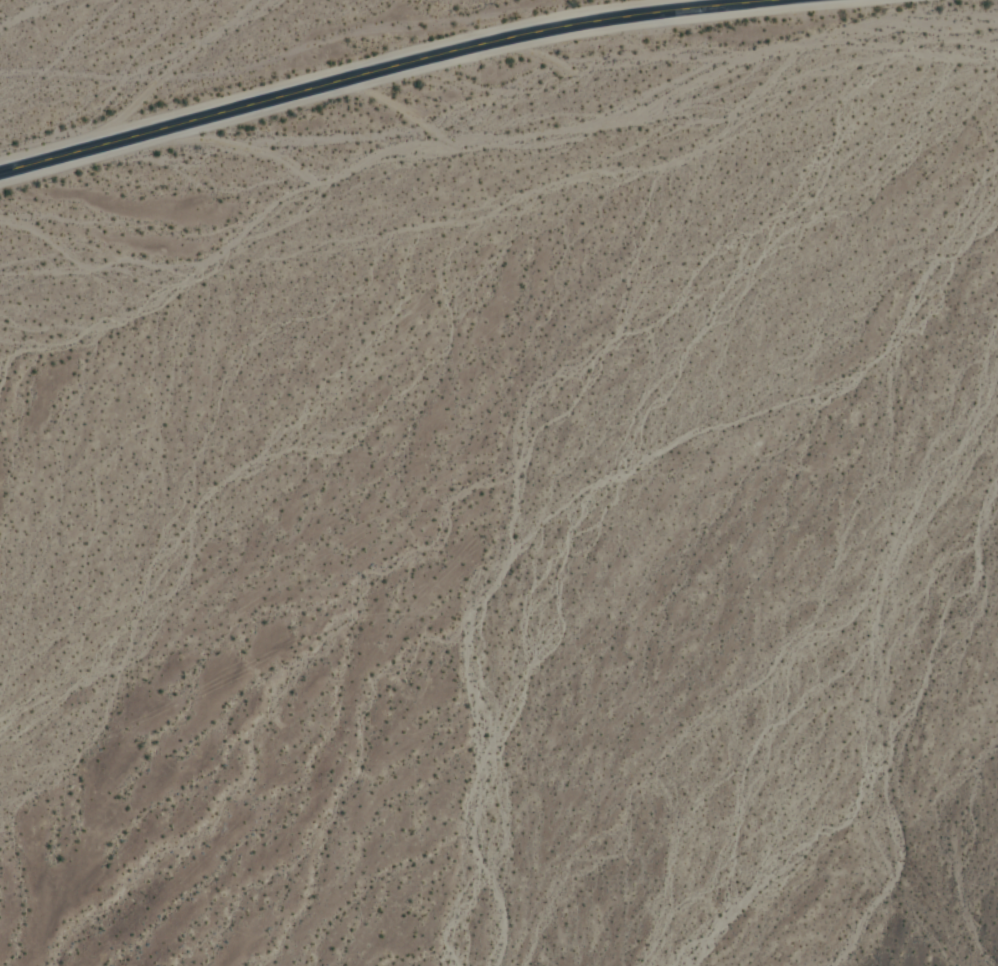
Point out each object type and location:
road: (357, 71)

